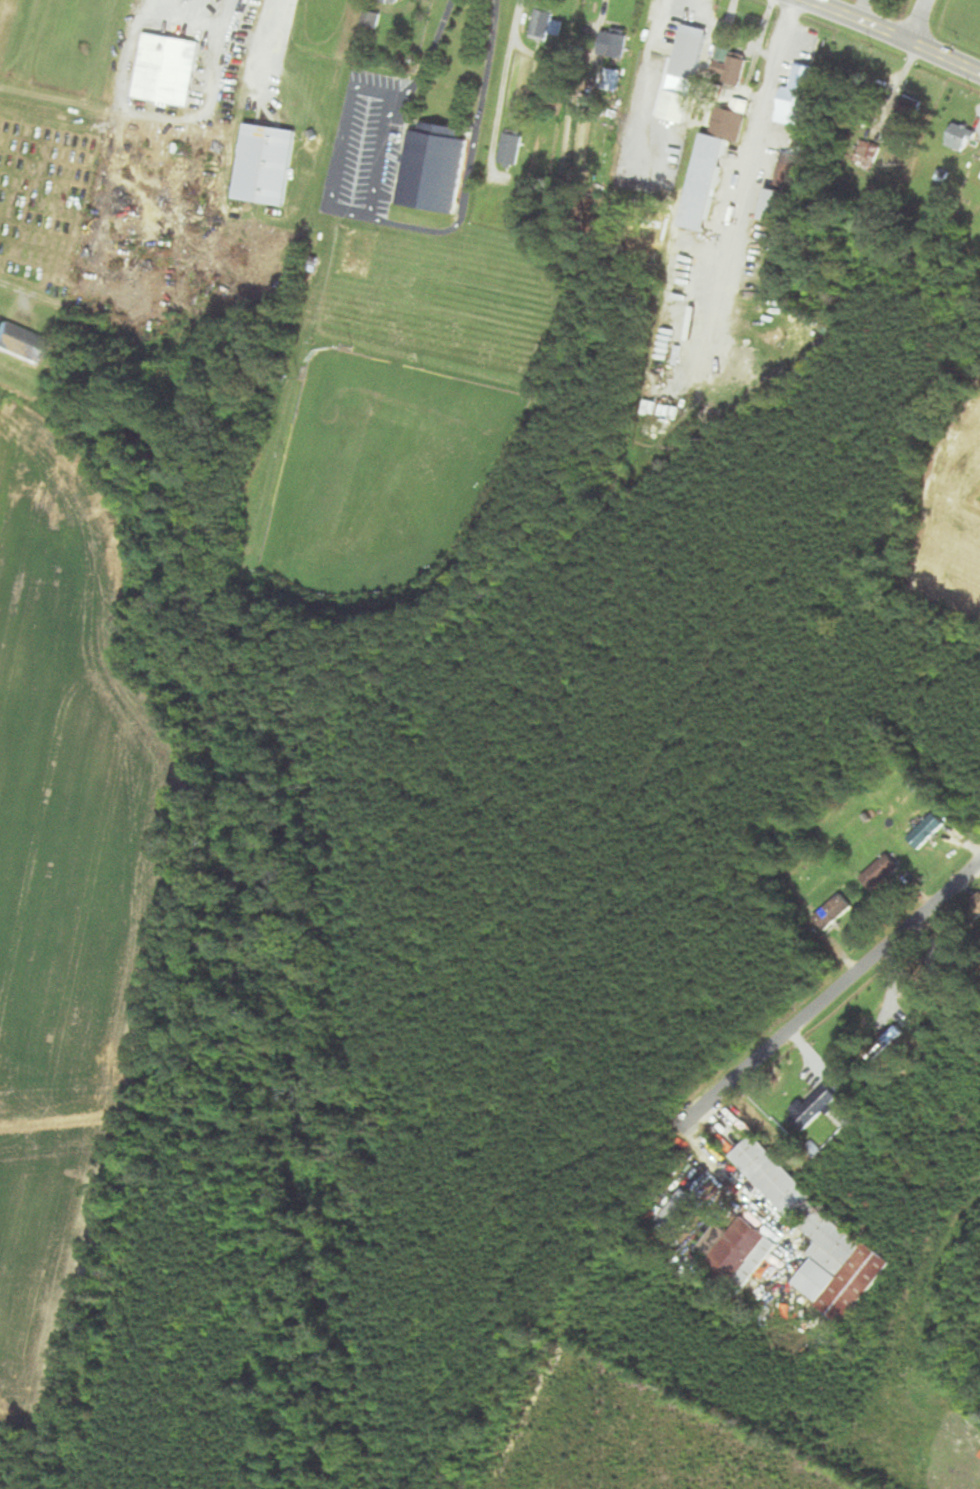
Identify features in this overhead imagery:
building: (390, 1)
road: (172, 7)
road: (914, 19)
building: (370, 20)
building: (545, 23)
road: (897, 34)
road: (270, 41)
building: (612, 43)
building: (686, 57)
building: (729, 68)
building: (165, 69)
building: (804, 78)
building: (792, 106)
building: (905, 113)
road: (164, 116)
building: (731, 119)
building: (959, 137)
road: (342, 140)
building: (510, 147)
building: (263, 164)
building: (431, 167)
building: (786, 170)
building: (702, 181)
building: (774, 205)
road: (409, 225)
road: (97, 248)
building: (19, 342)
building: (925, 831)
building: (879, 873)
building: (973, 908)
building: (832, 912)
road: (900, 930)
building: (884, 1044)
road: (757, 1062)
building: (816, 1110)
building: (677, 1211)
building: (803, 1223)
building: (734, 1253)

